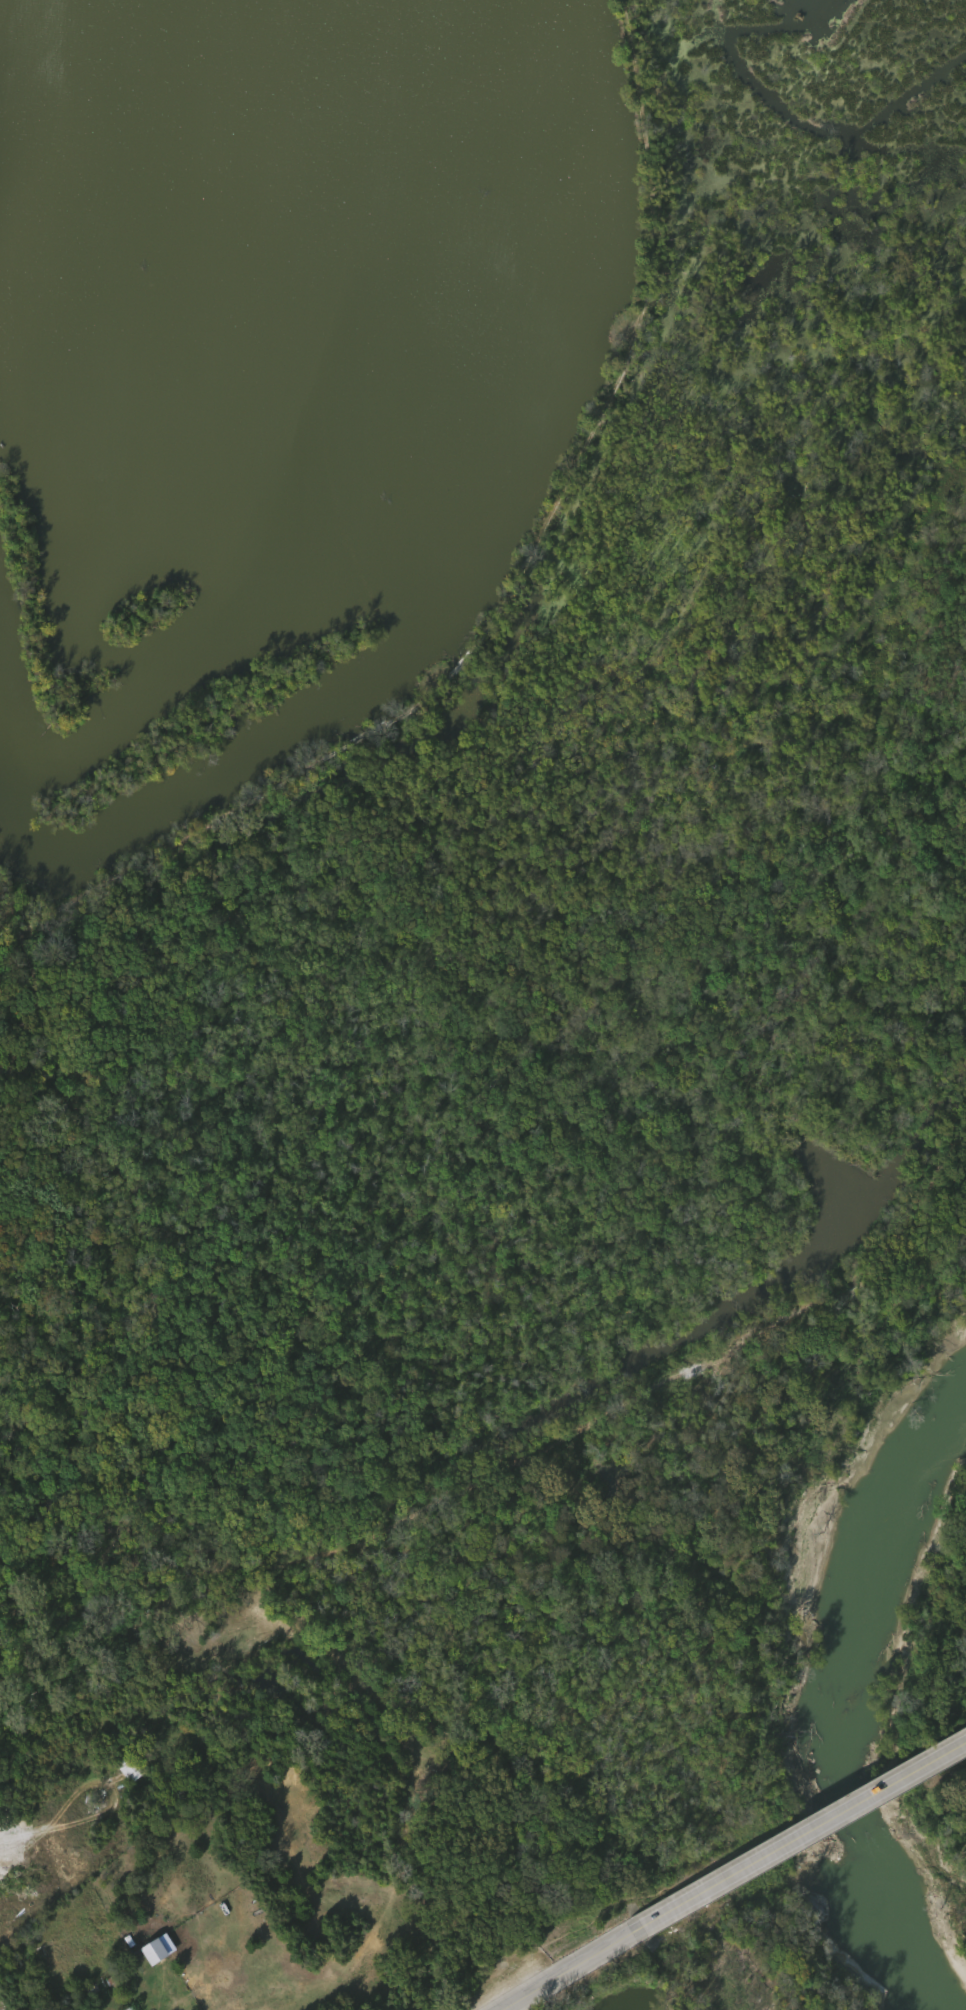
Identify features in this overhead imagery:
river: (890, 1579)
building: (131, 1768)
river: (888, 1789)
road: (800, 1836)
river: (899, 1911)
building: (156, 1951)
road: (567, 1970)
building: (125, 2008)
building: (132, 2008)
road: (173, 2009)

